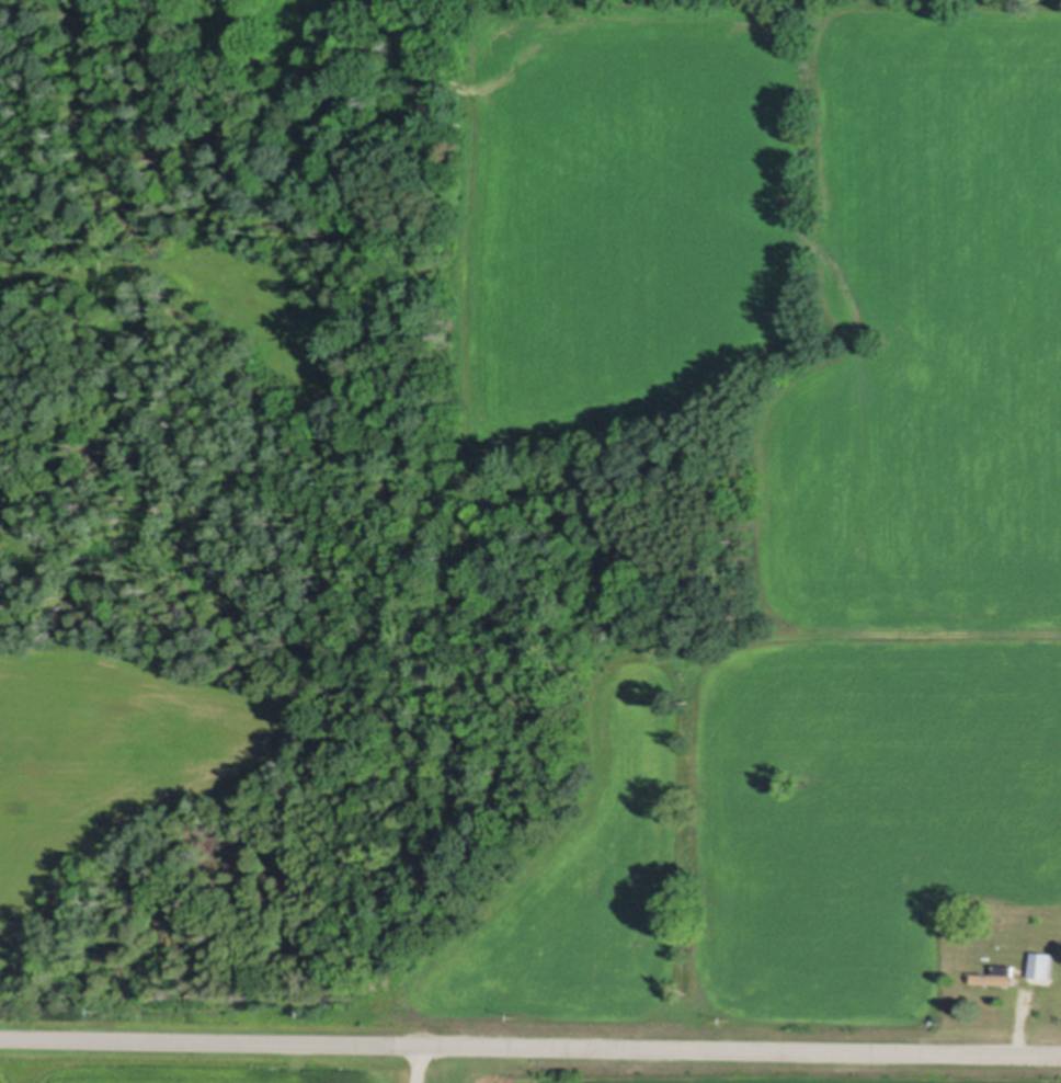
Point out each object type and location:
building: (1042, 962)
building: (999, 976)
road: (530, 1039)

